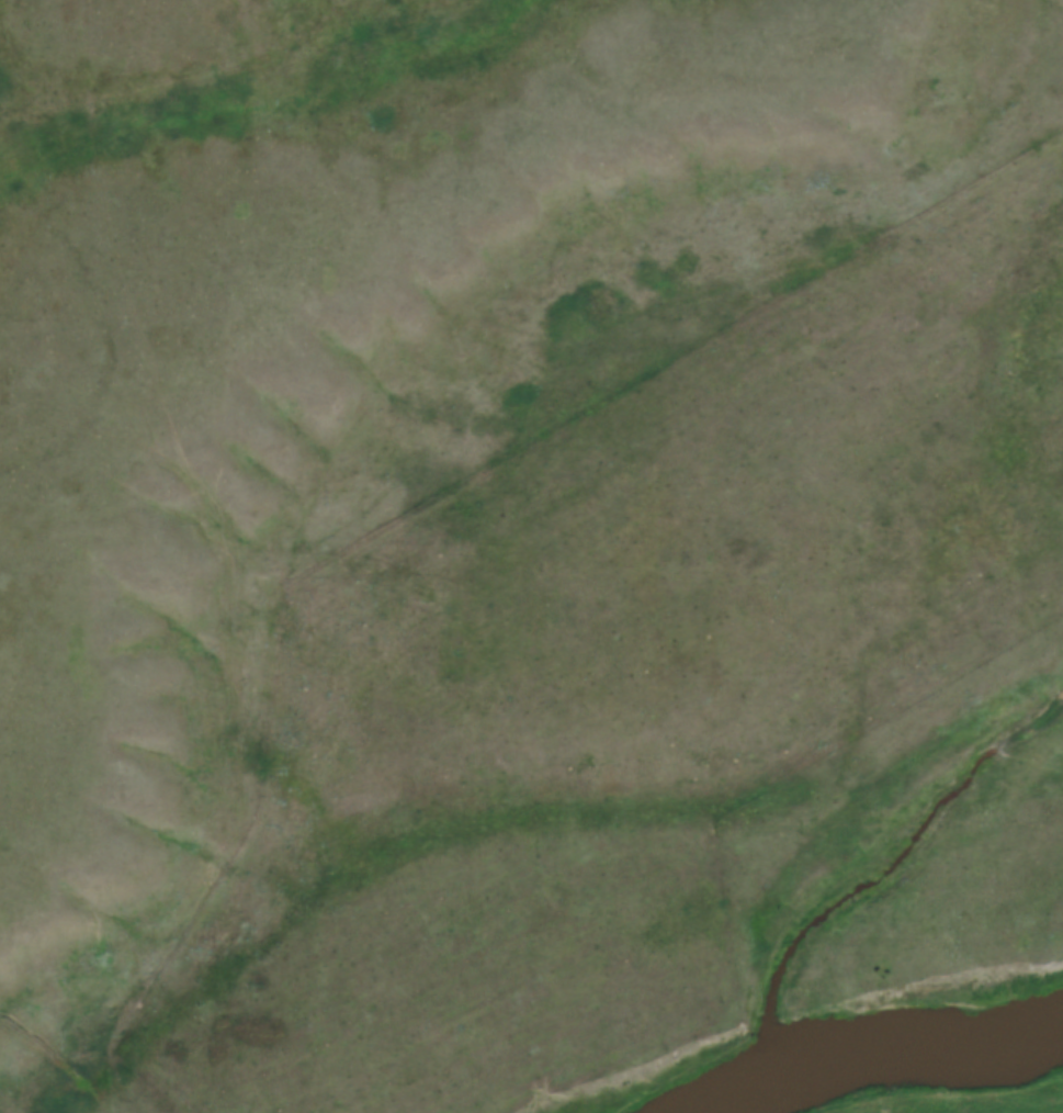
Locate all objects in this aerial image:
river: (889, 1050)

